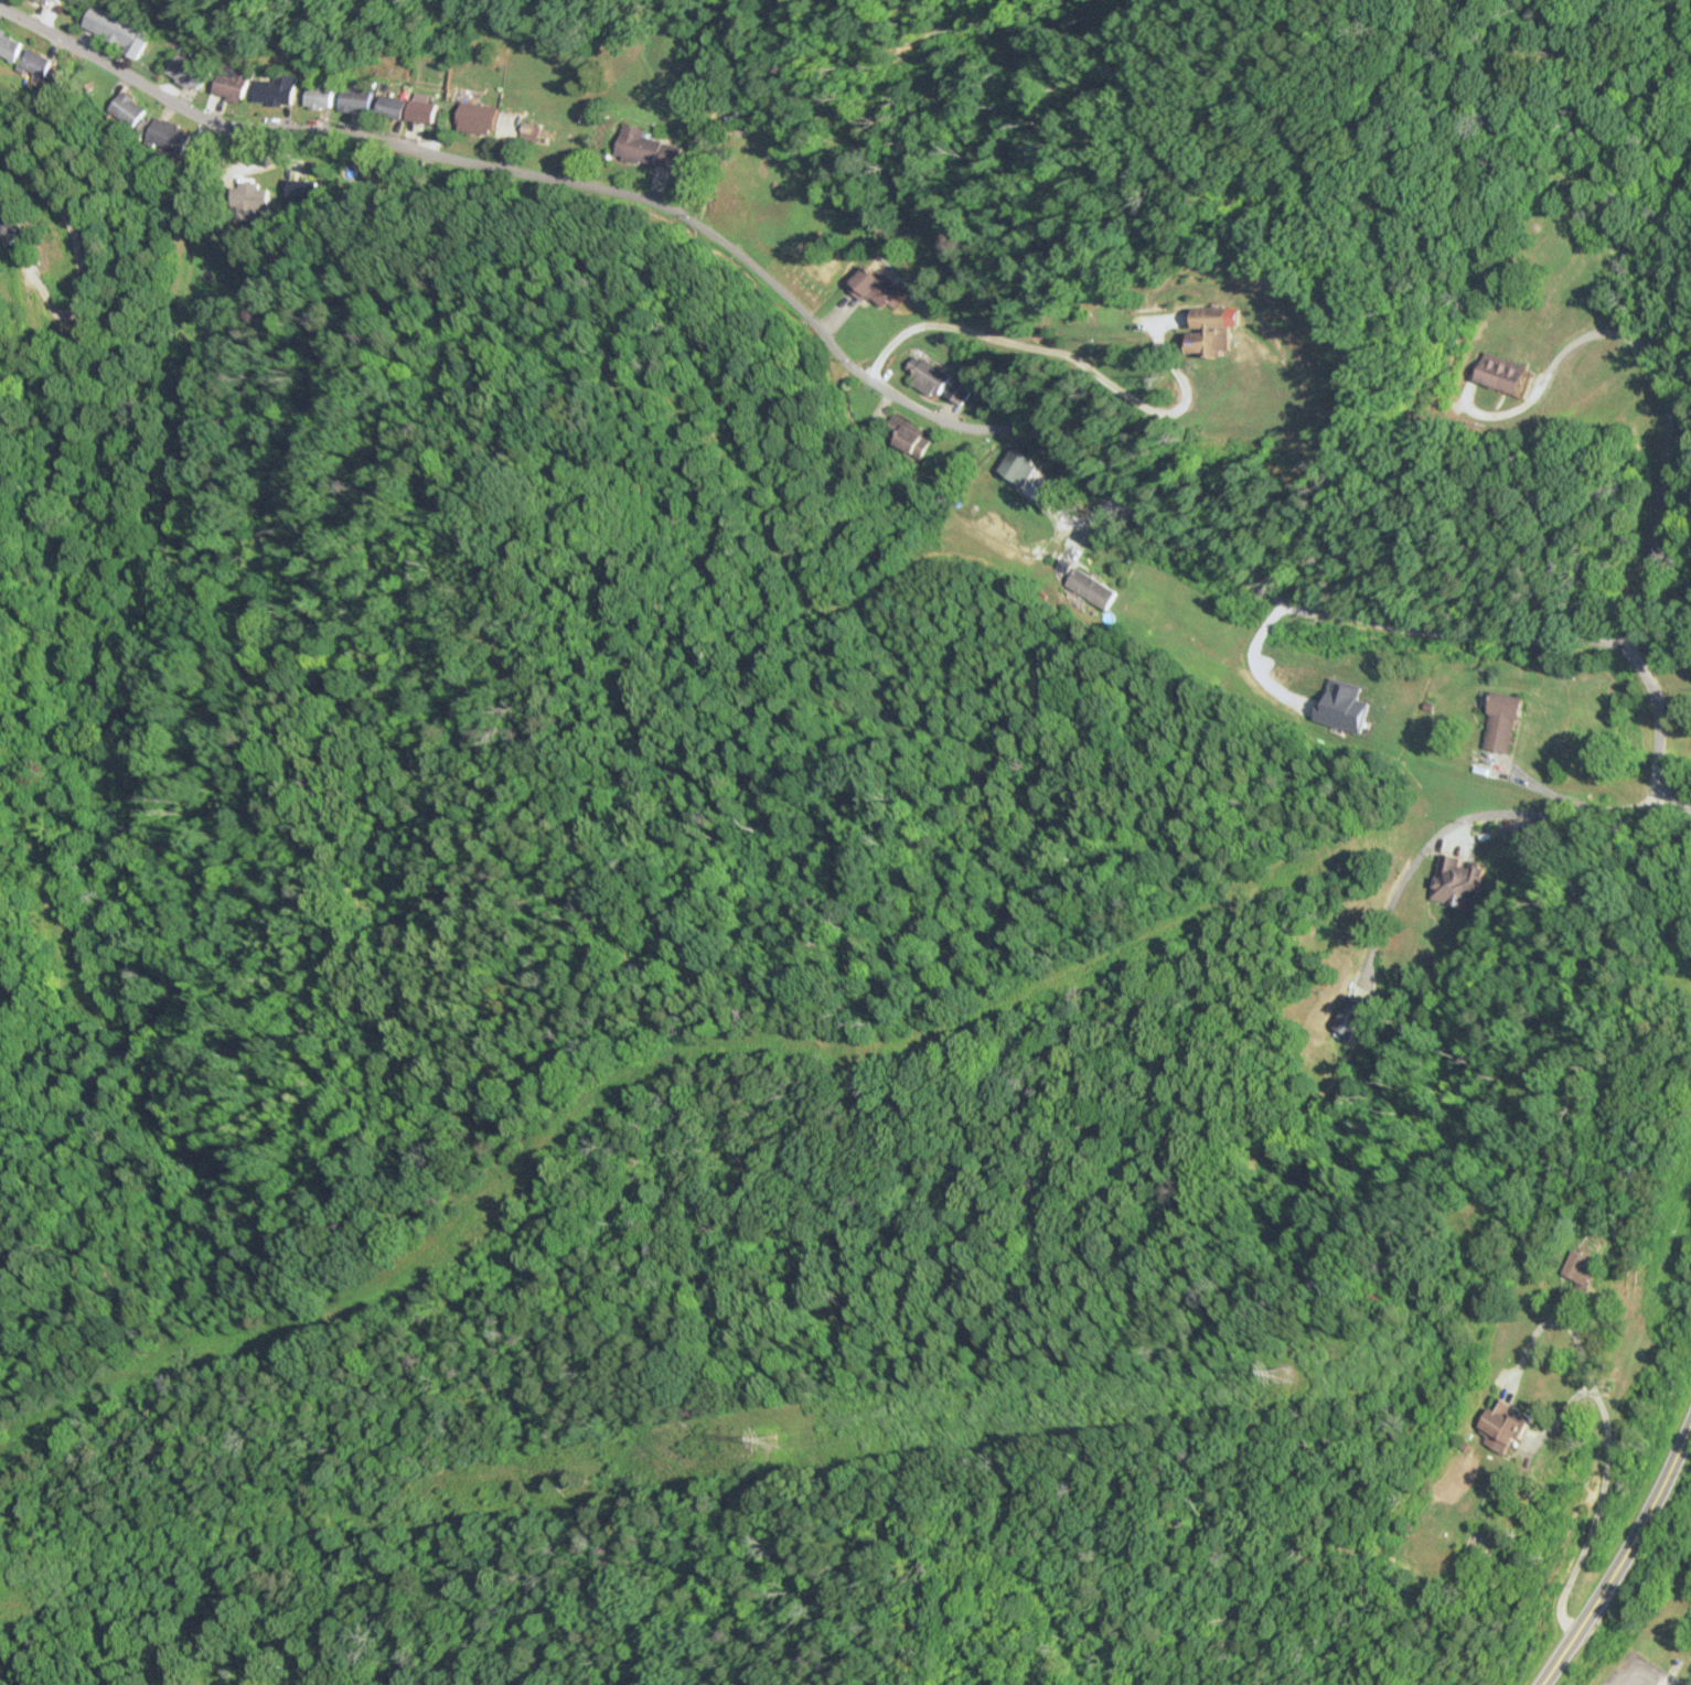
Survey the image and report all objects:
building: (44, 1)
road: (24, 21)
building: (117, 30)
building: (8, 45)
building: (34, 63)
building: (185, 71)
building: (228, 82)
building: (272, 89)
building: (317, 96)
building: (352, 99)
building: (388, 107)
building: (129, 109)
building: (420, 111)
building: (475, 119)
building: (169, 136)
building: (645, 148)
building: (254, 198)
building: (8, 228)
road: (62, 270)
building: (871, 286)
building: (1208, 332)
road: (1062, 355)
building: (1500, 373)
road: (1657, 373)
building: (929, 377)
building: (961, 389)
road: (907, 404)
building: (908, 437)
building: (1051, 506)
building: (1091, 590)
building: (1344, 691)
building: (1503, 722)
building: (1458, 883)
building: (1349, 1019)
building: (1580, 1268)
power tower: (1285, 1377)
building: (1502, 1427)
power tower: (771, 1434)
road: (1620, 1554)
road: (918, 1557)

